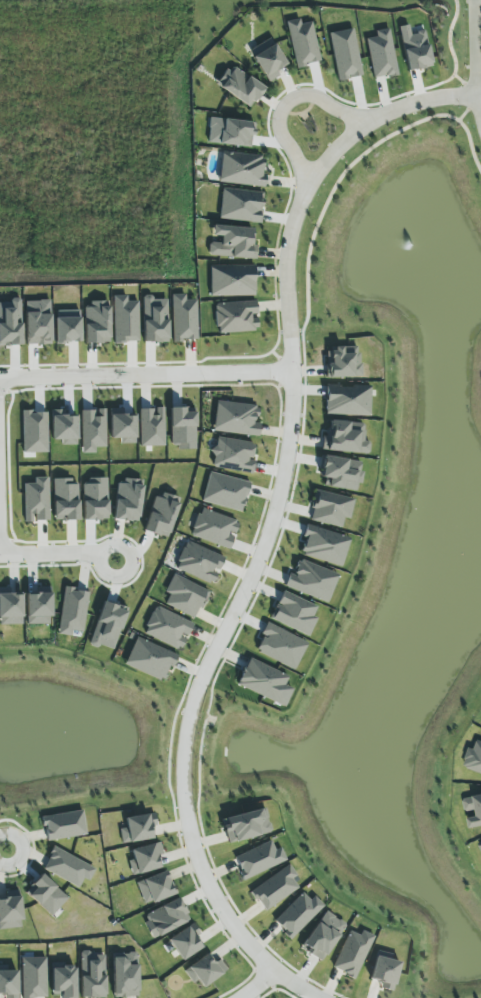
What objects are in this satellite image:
road: (477, 40)
building: (303, 43)
building: (415, 48)
building: (381, 54)
building: (268, 59)
building: (240, 86)
road: (287, 103)
building: (242, 169)
building: (241, 205)
building: (233, 242)
fountain: (415, 243)
building: (232, 280)
building: (236, 317)
building: (184, 318)
building: (125, 320)
building: (155, 320)
building: (38, 322)
building: (97, 322)
building: (10, 323)
building: (67, 326)
building: (343, 362)
road: (146, 375)
building: (347, 400)
building: (236, 419)
building: (152, 427)
building: (182, 429)
building: (93, 430)
building: (35, 432)
building: (346, 437)
building: (233, 455)
building: (341, 473)
building: (226, 492)
road: (280, 496)
road: (1, 499)
building: (65, 499)
building: (36, 500)
building: (95, 500)
building: (128, 500)
building: (331, 508)
building: (162, 514)
building: (215, 528)
building: (324, 545)
road: (55, 551)
building: (199, 562)
building: (312, 580)
building: (185, 596)
building: (10, 607)
building: (39, 607)
building: (73, 611)
building: (295, 613)
building: (108, 626)
building: (168, 628)
building: (281, 646)
building: (150, 659)
building: (263, 680)
building: (473, 758)
building: (473, 808)
building: (64, 825)
building: (246, 825)
building: (139, 829)
road: (5, 844)
building: (479, 844)
building: (146, 859)
building: (259, 859)
building: (68, 867)
building: (156, 887)
building: (276, 888)
building: (46, 894)
building: (11, 910)
building: (298, 914)
building: (166, 918)
building: (323, 936)
building: (186, 942)
building: (353, 953)
building: (205, 970)
building: (385, 971)
building: (92, 975)
building: (125, 975)
building: (34, 977)
building: (64, 980)
building: (8, 982)
road: (298, 984)
road: (262, 985)

